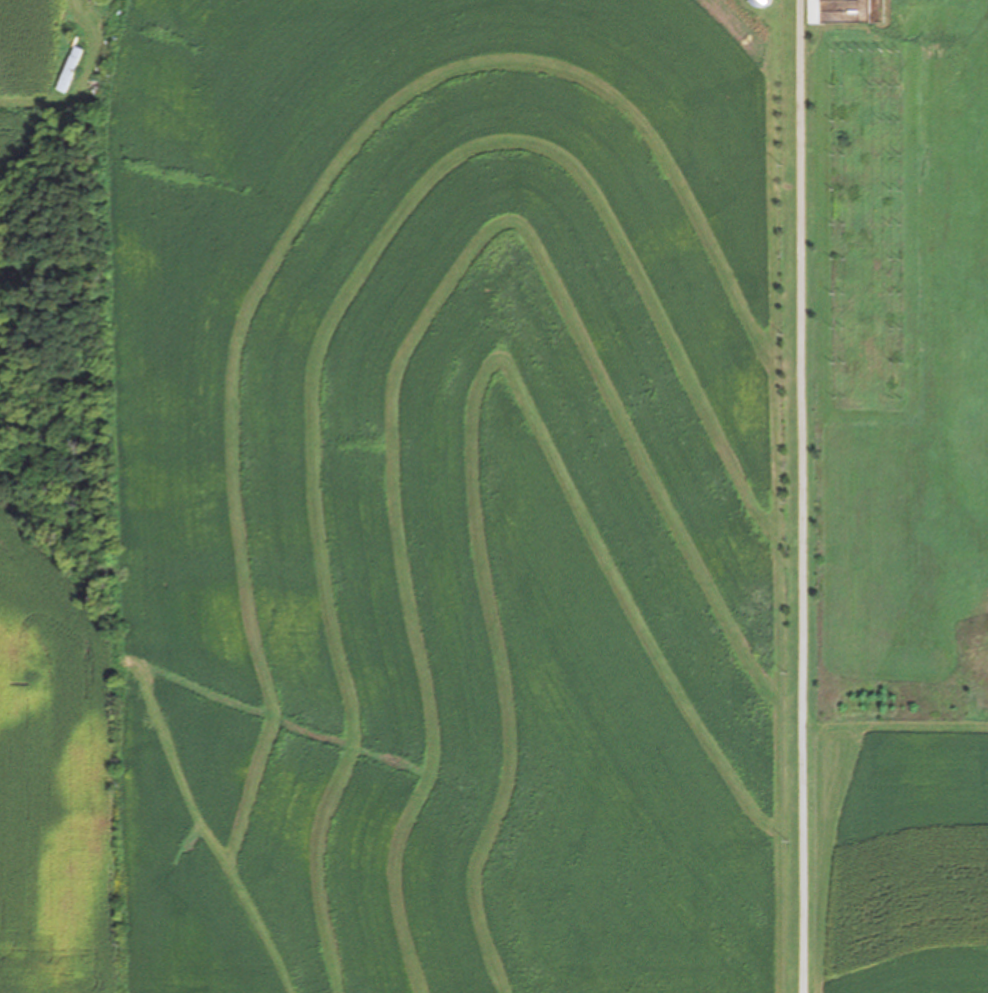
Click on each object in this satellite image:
building: (812, 11)
building: (73, 69)
road: (808, 496)

